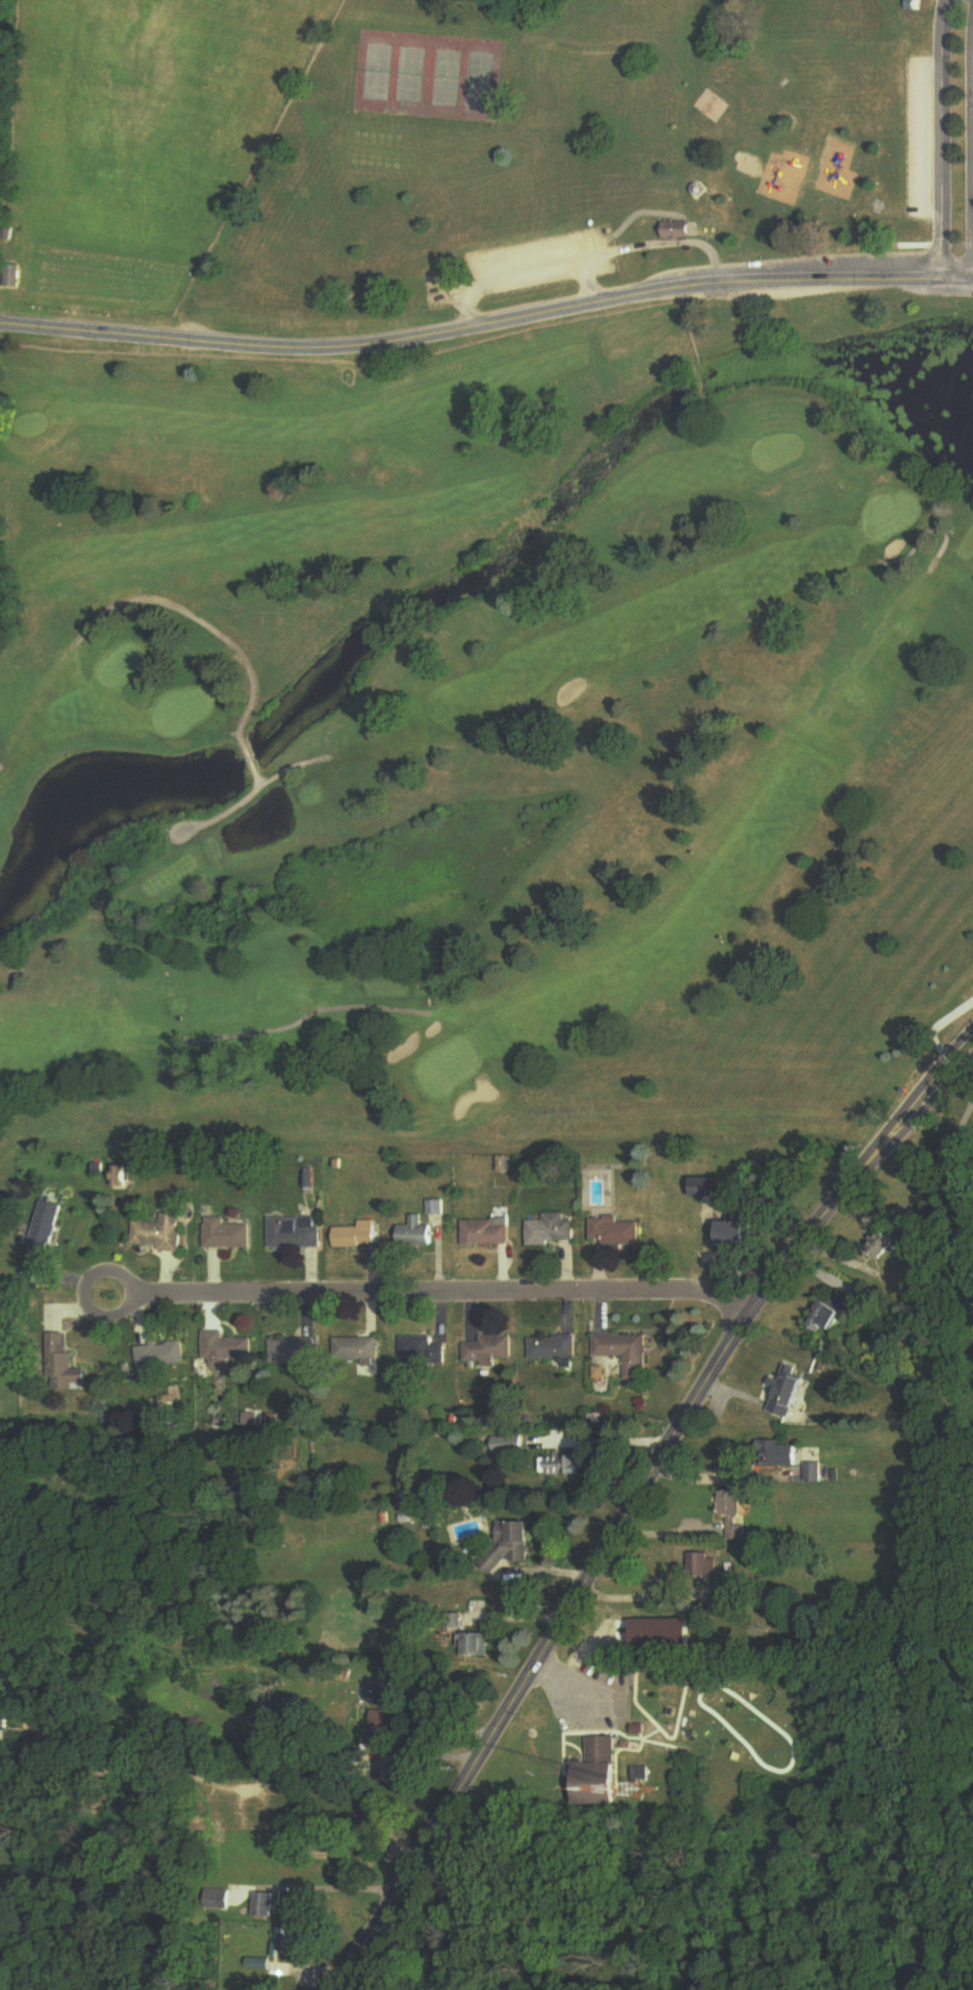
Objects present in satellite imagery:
park: (371, 71)
park: (407, 74)
park: (443, 77)
park: (480, 81)
road: (971, 98)
road: (941, 132)
parking lot: (916, 136)
park: (467, 153)
building: (676, 228)
road: (873, 240)
road: (939, 241)
road: (957, 241)
road: (969, 241)
road: (579, 257)
parking lot: (523, 270)
building: (9, 274)
road: (589, 279)
road: (488, 323)
river: (461, 574)
park: (484, 732)
road: (941, 1021)
road: (960, 1040)
road: (950, 1159)
building: (708, 1189)
building: (552, 1230)
building: (46, 1232)
building: (487, 1233)
building: (159, 1234)
building: (295, 1234)
building: (615, 1234)
building: (416, 1235)
building: (735, 1235)
building: (227, 1236)
building: (356, 1236)
building: (879, 1244)
road: (427, 1285)
building: (834, 1307)
building: (551, 1349)
building: (355, 1351)
building: (488, 1351)
building: (229, 1352)
building: (293, 1352)
building: (422, 1352)
building: (623, 1353)
building: (160, 1356)
building: (68, 1374)
building: (786, 1394)
road: (616, 1437)
building: (506, 1445)
building: (785, 1456)
building: (559, 1465)
building: (810, 1473)
road: (715, 1477)
road: (630, 1511)
building: (731, 1516)
building: (511, 1543)
building: (702, 1570)
road: (638, 1593)
building: (480, 1646)
building: (382, 1725)
building: (599, 1772)
road: (14, 1792)
road: (323, 1882)
building: (289, 1939)

